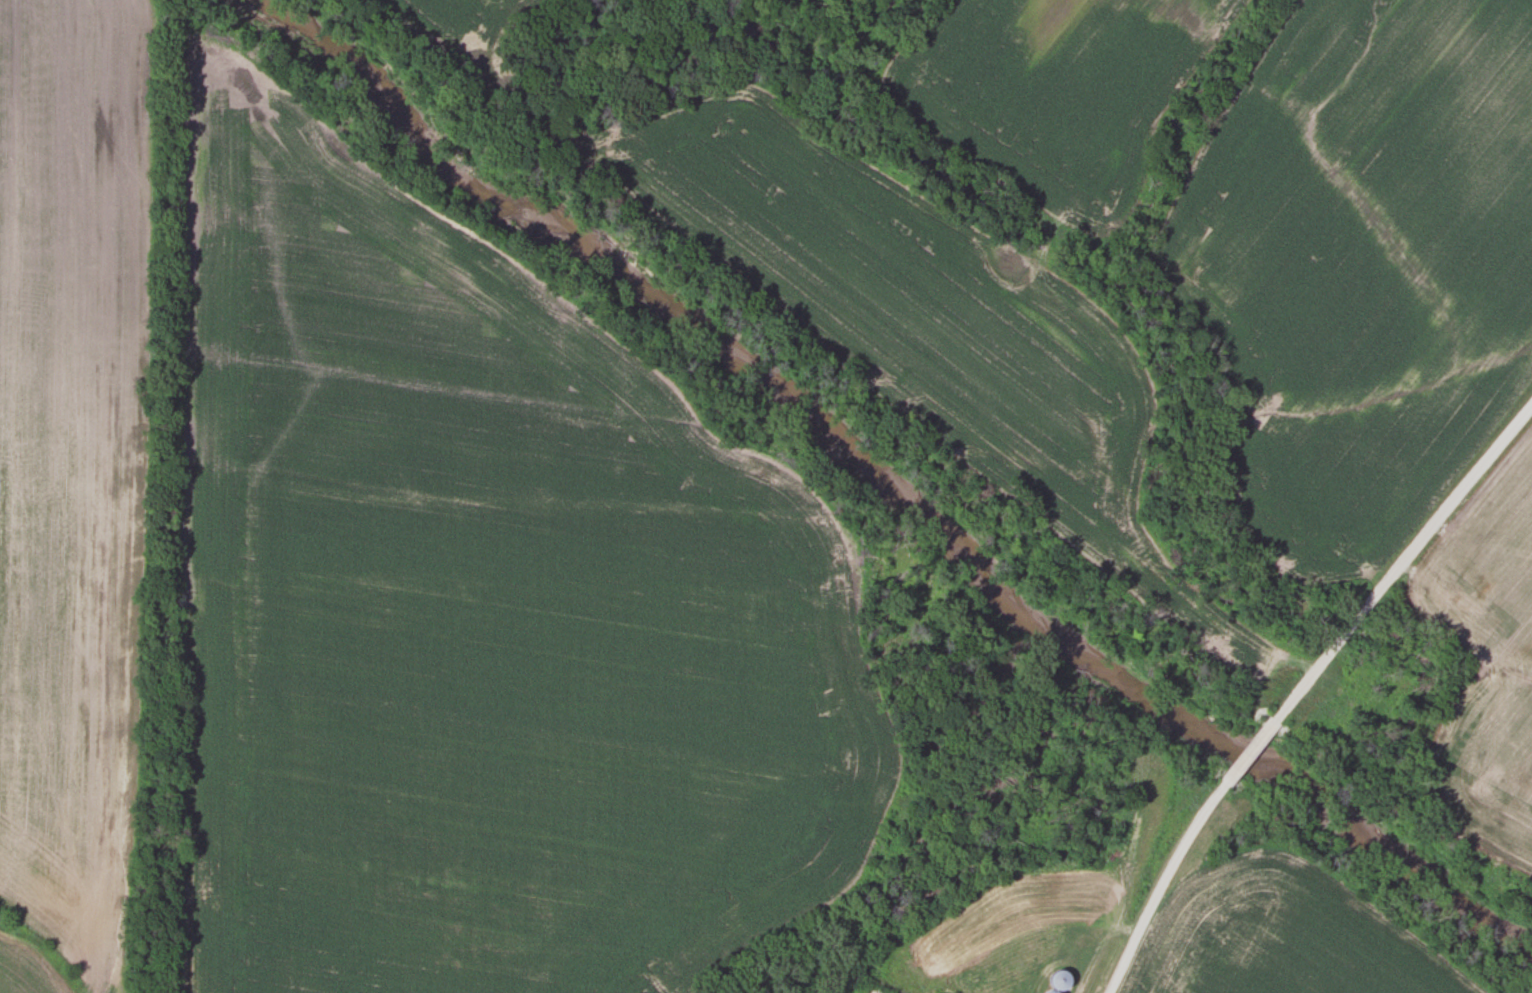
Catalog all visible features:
road: (1304, 687)
building: (1059, 980)
building: (870, 989)
building: (1051, 991)

